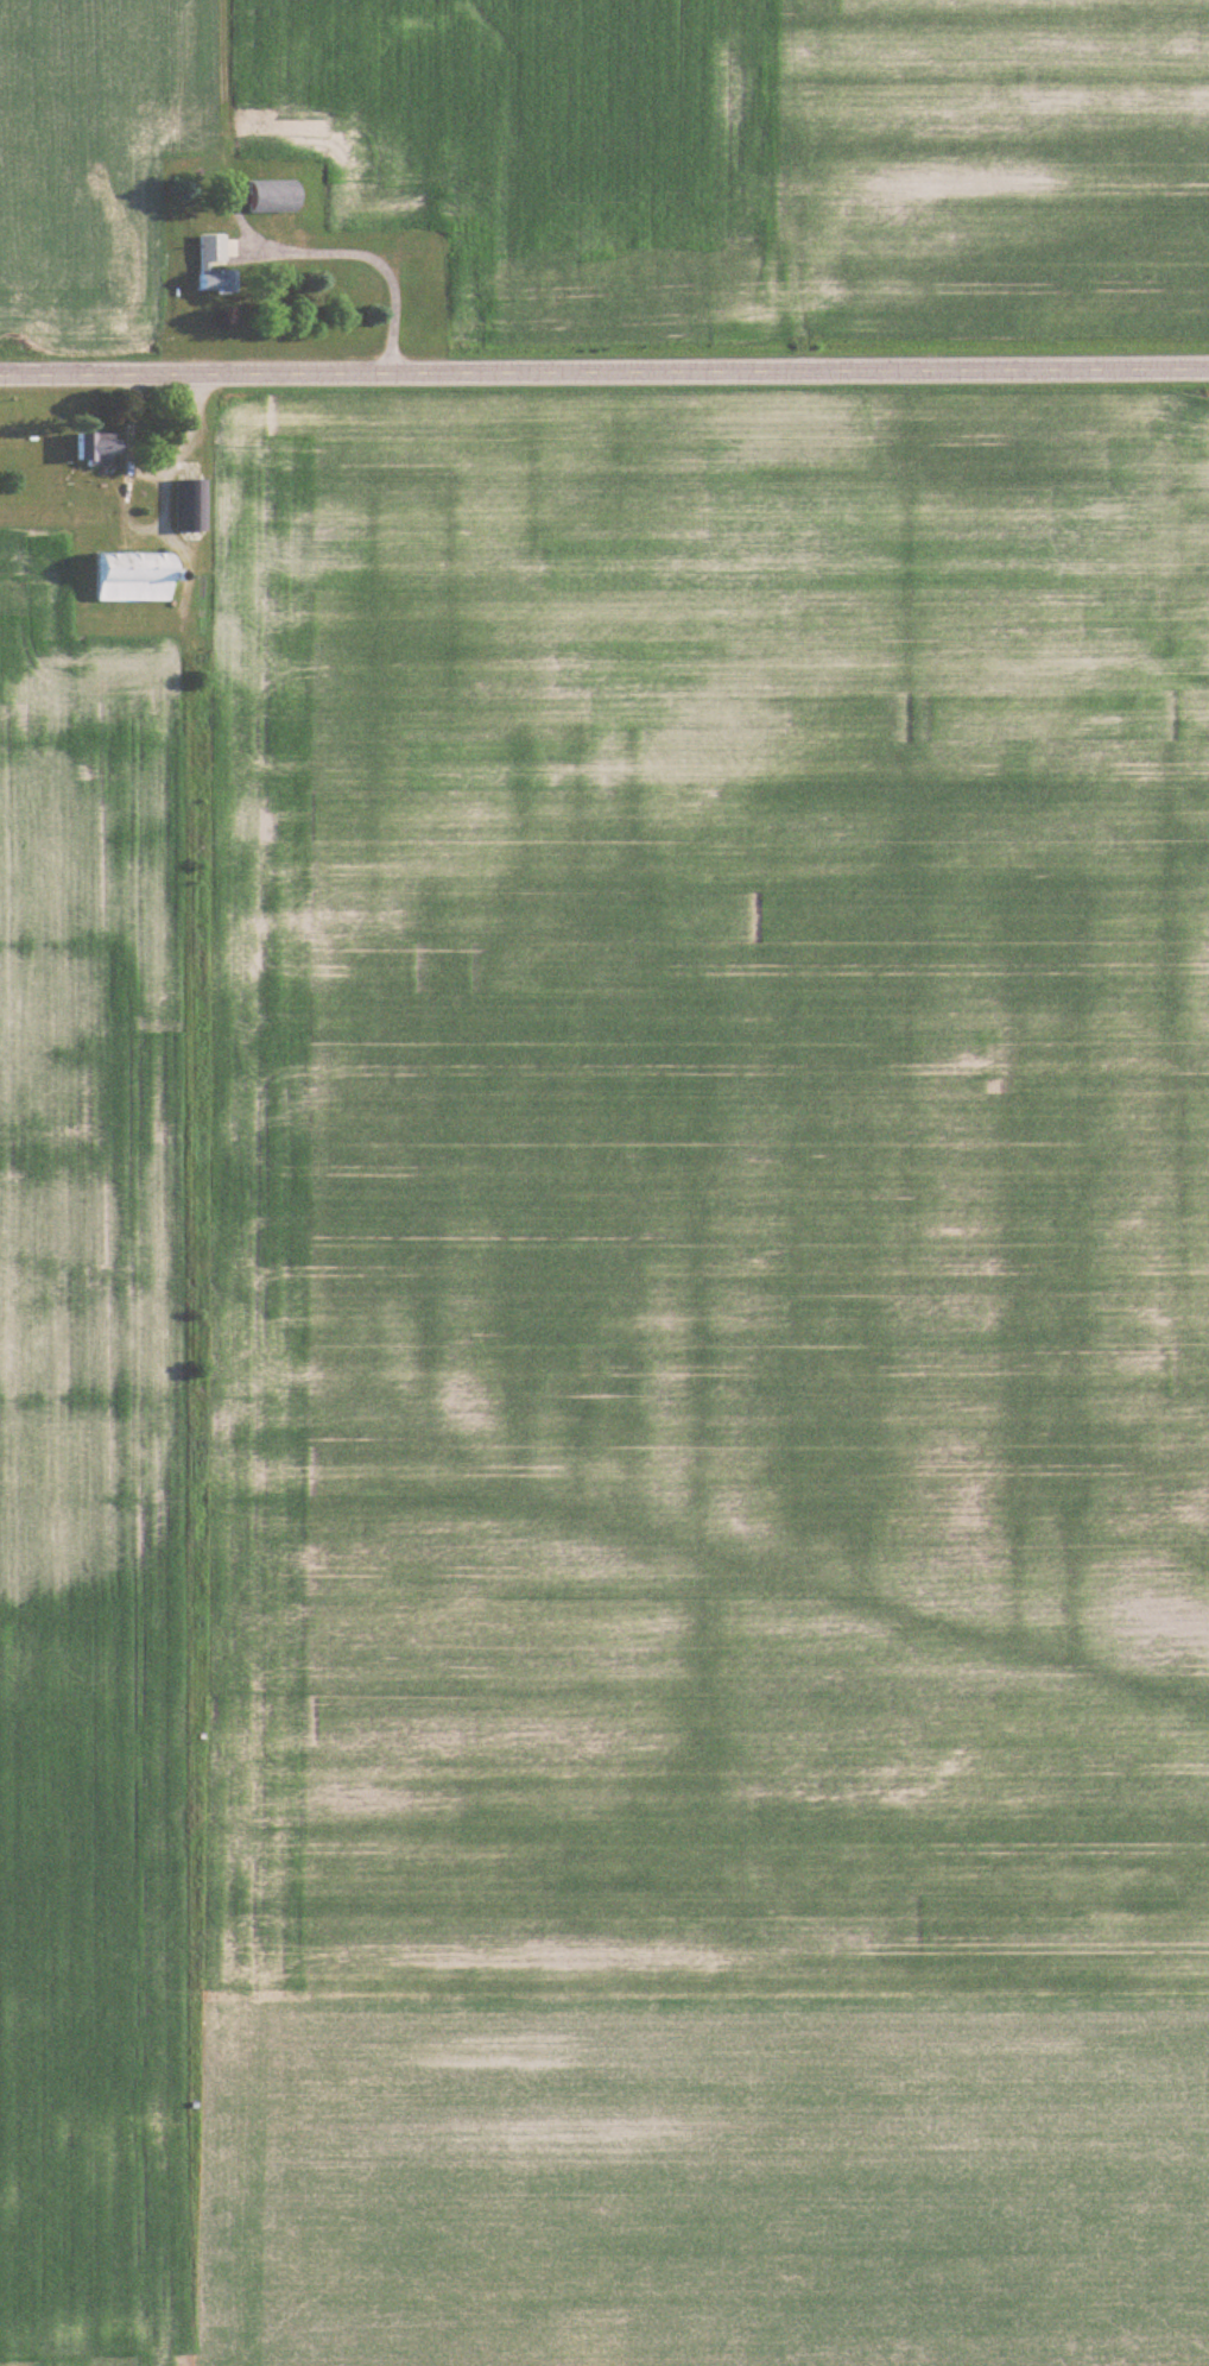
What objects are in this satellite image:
building: (259, 196)
road: (369, 259)
building: (198, 265)
road: (603, 372)
building: (89, 447)
building: (125, 576)

